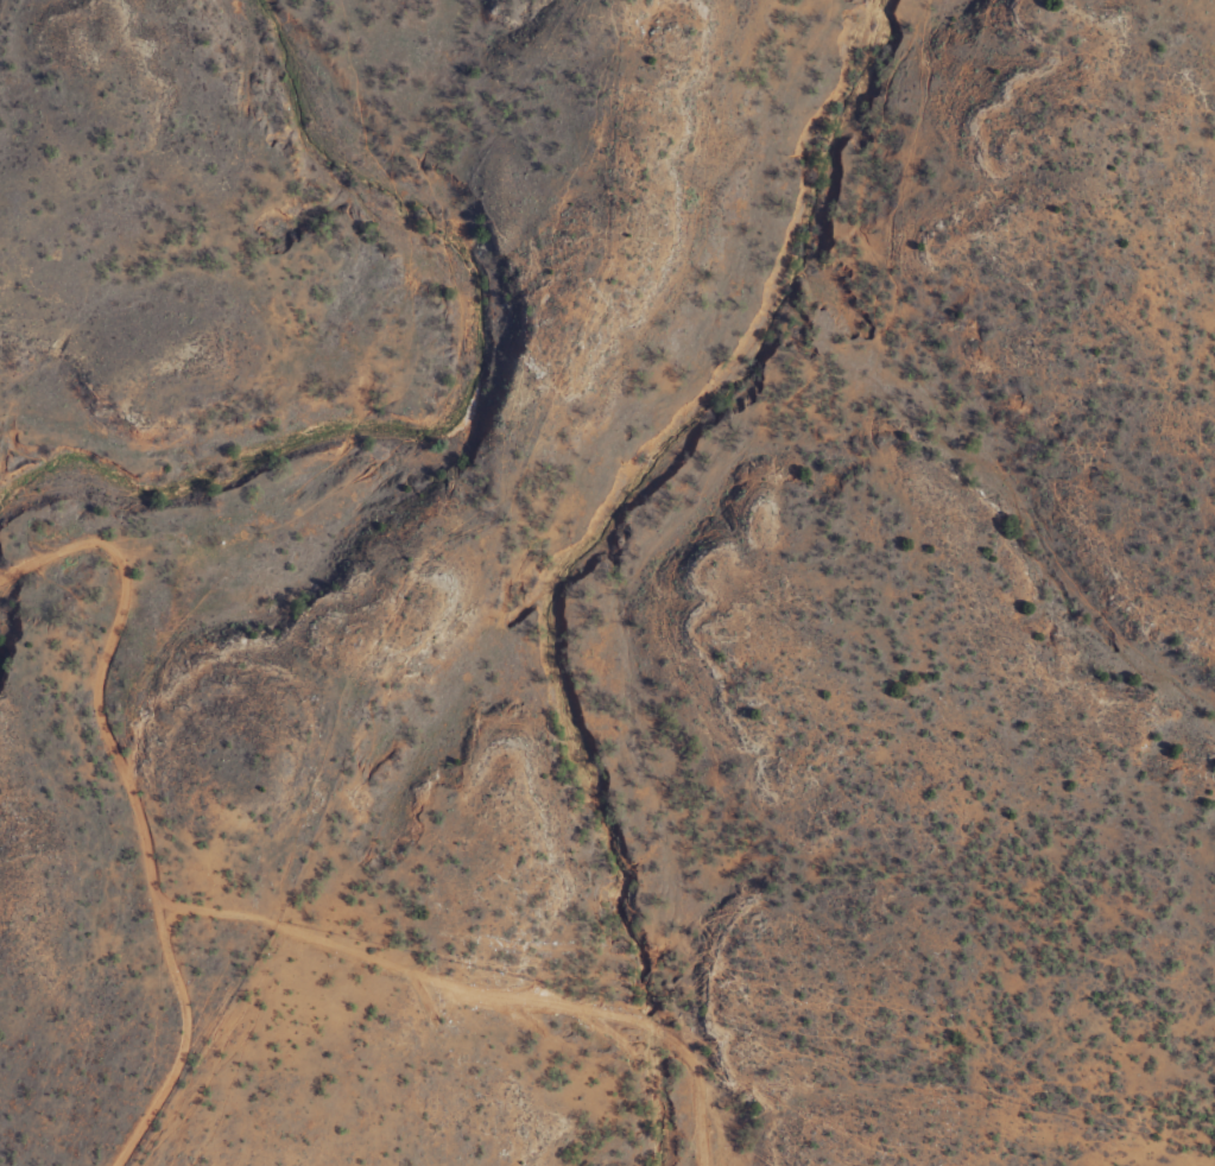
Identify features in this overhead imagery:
road: (133, 788)
road: (489, 988)

